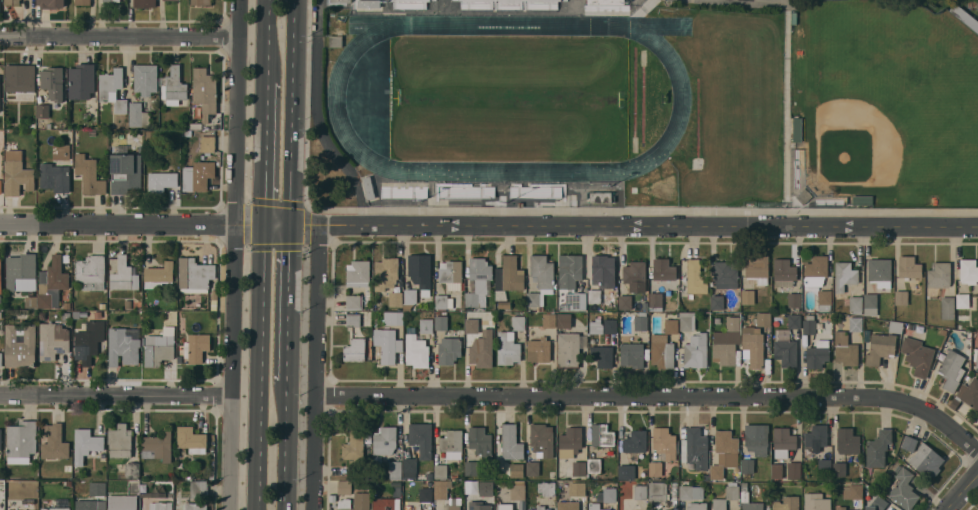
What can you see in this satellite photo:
building: (110, 0)
building: (168, 0)
building: (342, 0)
building: (12, 2)
building: (83, 2)
building: (201, 2)
building: (605, 2)
building: (51, 3)
building: (144, 3)
building: (369, 3)
building: (973, 3)
building: (409, 4)
building: (508, 5)
road: (118, 34)
road: (268, 40)
building: (335, 40)
building: (20, 77)
building: (146, 78)
building: (82, 80)
building: (53, 82)
building: (173, 86)
building: (113, 88)
building: (205, 91)
track: (336, 98)
park: (509, 98)
building: (43, 110)
road: (291, 113)
building: (138, 115)
building: (195, 125)
building: (92, 131)
building: (798, 134)
building: (207, 143)
park: (852, 148)
road: (265, 154)
building: (56, 170)
building: (124, 170)
building: (17, 173)
building: (89, 174)
building: (203, 174)
building: (161, 181)
building: (1, 186)
building: (369, 187)
building: (404, 191)
building: (467, 191)
building: (536, 191)
building: (804, 195)
building: (601, 196)
building: (855, 202)
traffic signals: (263, 228)
traffic signals: (290, 228)
road: (488, 228)
road: (232, 255)
building: (602, 265)
building: (909, 266)
building: (480, 268)
building: (757, 268)
building: (420, 269)
building: (542, 270)
building: (816, 270)
building: (665, 271)
building: (880, 271)
building: (968, 271)
building: (21, 272)
building: (91, 272)
building: (784, 272)
building: (1, 273)
building: (358, 273)
building: (386, 273)
building: (159, 274)
building: (194, 274)
building: (451, 274)
building: (510, 274)
building: (634, 274)
building: (845, 274)
building: (939, 274)
building: (124, 275)
building: (725, 275)
building: (696, 277)
building: (571, 280)
building: (53, 282)
building: (608, 293)
building: (501, 294)
road: (288, 296)
building: (595, 296)
building: (748, 296)
building: (902, 297)
building: (395, 298)
building: (214, 299)
building: (409, 299)
building: (476, 299)
building: (655, 299)
building: (794, 299)
building: (353, 300)
building: (534, 300)
building: (824, 300)
building: (443, 301)
building: (625, 301)
building: (31, 302)
building: (717, 302)
building: (128, 303)
building: (854, 303)
building: (871, 303)
building: (137, 304)
building: (504, 304)
building: (102, 305)
building: (377, 305)
building: (966, 305)
building: (948, 307)
building: (84, 313)
building: (66, 315)
building: (393, 318)
building: (353, 319)
building: (763, 319)
building: (549, 320)
building: (564, 320)
building: (687, 320)
building: (641, 321)
building: (794, 321)
building: (441, 322)
building: (518, 322)
building: (855, 323)
building: (810, 324)
building: (426, 325)
building: (472, 325)
building: (610, 325)
building: (913, 325)
building: (596, 326)
building: (671, 326)
building: (893, 326)
building: (943, 331)
building: (53, 340)
building: (89, 340)
building: (727, 342)
building: (124, 344)
building: (388, 344)
building: (20, 345)
building: (754, 346)
building: (196, 347)
building: (416, 348)
building: (508, 348)
building: (570, 348)
building: (880, 348)
building: (158, 349)
building: (355, 349)
building: (449, 349)
building: (539, 349)
building: (845, 349)
building: (696, 350)
building: (786, 350)
building: (662, 351)
building: (481, 352)
building: (632, 354)
building: (602, 355)
building: (818, 355)
building: (917, 355)
building: (976, 355)
building: (180, 358)
building: (1, 359)
road: (260, 368)
road: (316, 368)
building: (952, 369)
road: (115, 393)
building: (969, 393)
road: (654, 396)
building: (954, 403)
building: (602, 434)
road: (285, 437)
building: (421, 438)
building: (757, 438)
building: (1, 439)
building: (192, 439)
building: (542, 439)
building: (815, 439)
building: (636, 440)
building: (847, 440)
building: (22, 441)
building: (54, 441)
building: (120, 441)
building: (480, 441)
building: (570, 441)
building: (783, 441)
building: (384, 442)
building: (511, 442)
building: (665, 443)
building: (910, 443)
building: (86, 444)
building: (452, 444)
building: (158, 445)
building: (694, 446)
building: (879, 448)
building: (355, 452)
building: (723, 452)
building: (926, 460)
building: (180, 464)
building: (594, 465)
building: (410, 466)
building: (747, 466)
building: (825, 466)
building: (68, 467)
building: (471, 467)
building: (533, 467)
building: (579, 468)
building: (132, 469)
building: (395, 469)
building: (516, 469)
building: (656, 469)
building: (840, 469)
building: (736, 470)
building: (777, 470)
building: (794, 470)
building: (441, 471)
building: (625, 471)
building: (146, 473)
building: (211, 474)
building: (430, 476)
building: (455, 476)
building: (706, 476)
building: (69, 482)
building: (345, 486)
building: (467, 486)
building: (547, 487)
building: (97, 488)
building: (199, 488)
building: (486, 488)
building: (578, 488)
building: (441, 489)
building: (904, 489)
building: (518, 490)
building: (398, 491)
building: (640, 491)
building: (658, 491)
building: (775, 491)
building: (853, 491)
building: (691, 492)
road: (962, 492)
building: (426, 494)
building: (608, 494)
building: (745, 496)
building: (726, 497)
building: (122, 502)
building: (355, 502)
building: (816, 502)
building: (455, 503)
building: (787, 503)
building: (877, 503)
building: (90, 504)
building: (187, 504)
building: (387, 504)
building: (59, 505)
building: (160, 505)
building: (479, 505)
building: (505, 505)
building: (568, 505)
building: (697, 505)
building: (596, 506)
building: (540, 508)
building: (841, 508)
building: (30, 509)
building: (668, 509)

